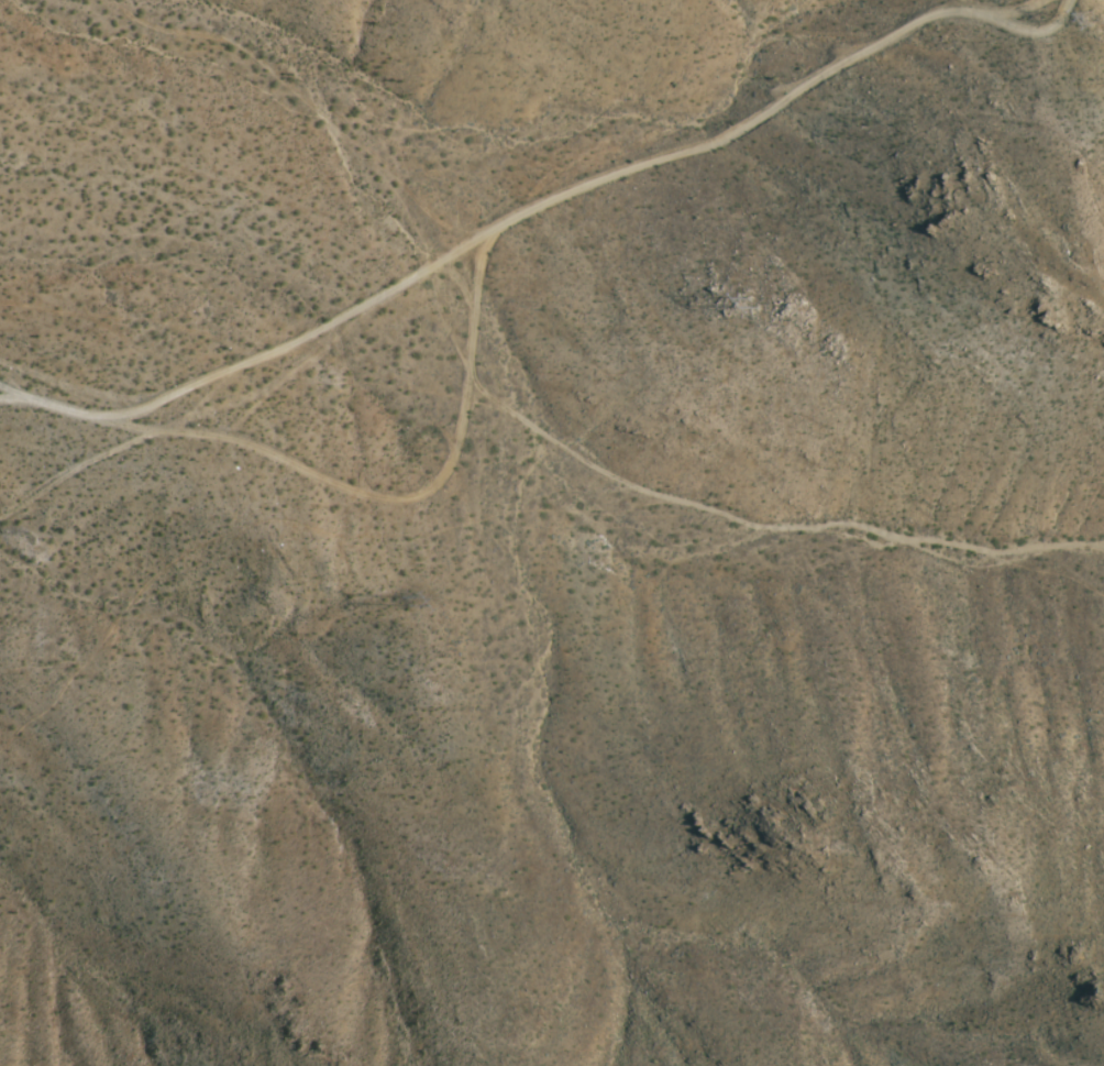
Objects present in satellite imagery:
road: (786, 110)
power tower: (768, 300)
road: (284, 354)
road: (19, 403)
road: (407, 503)
power tower: (405, 602)

